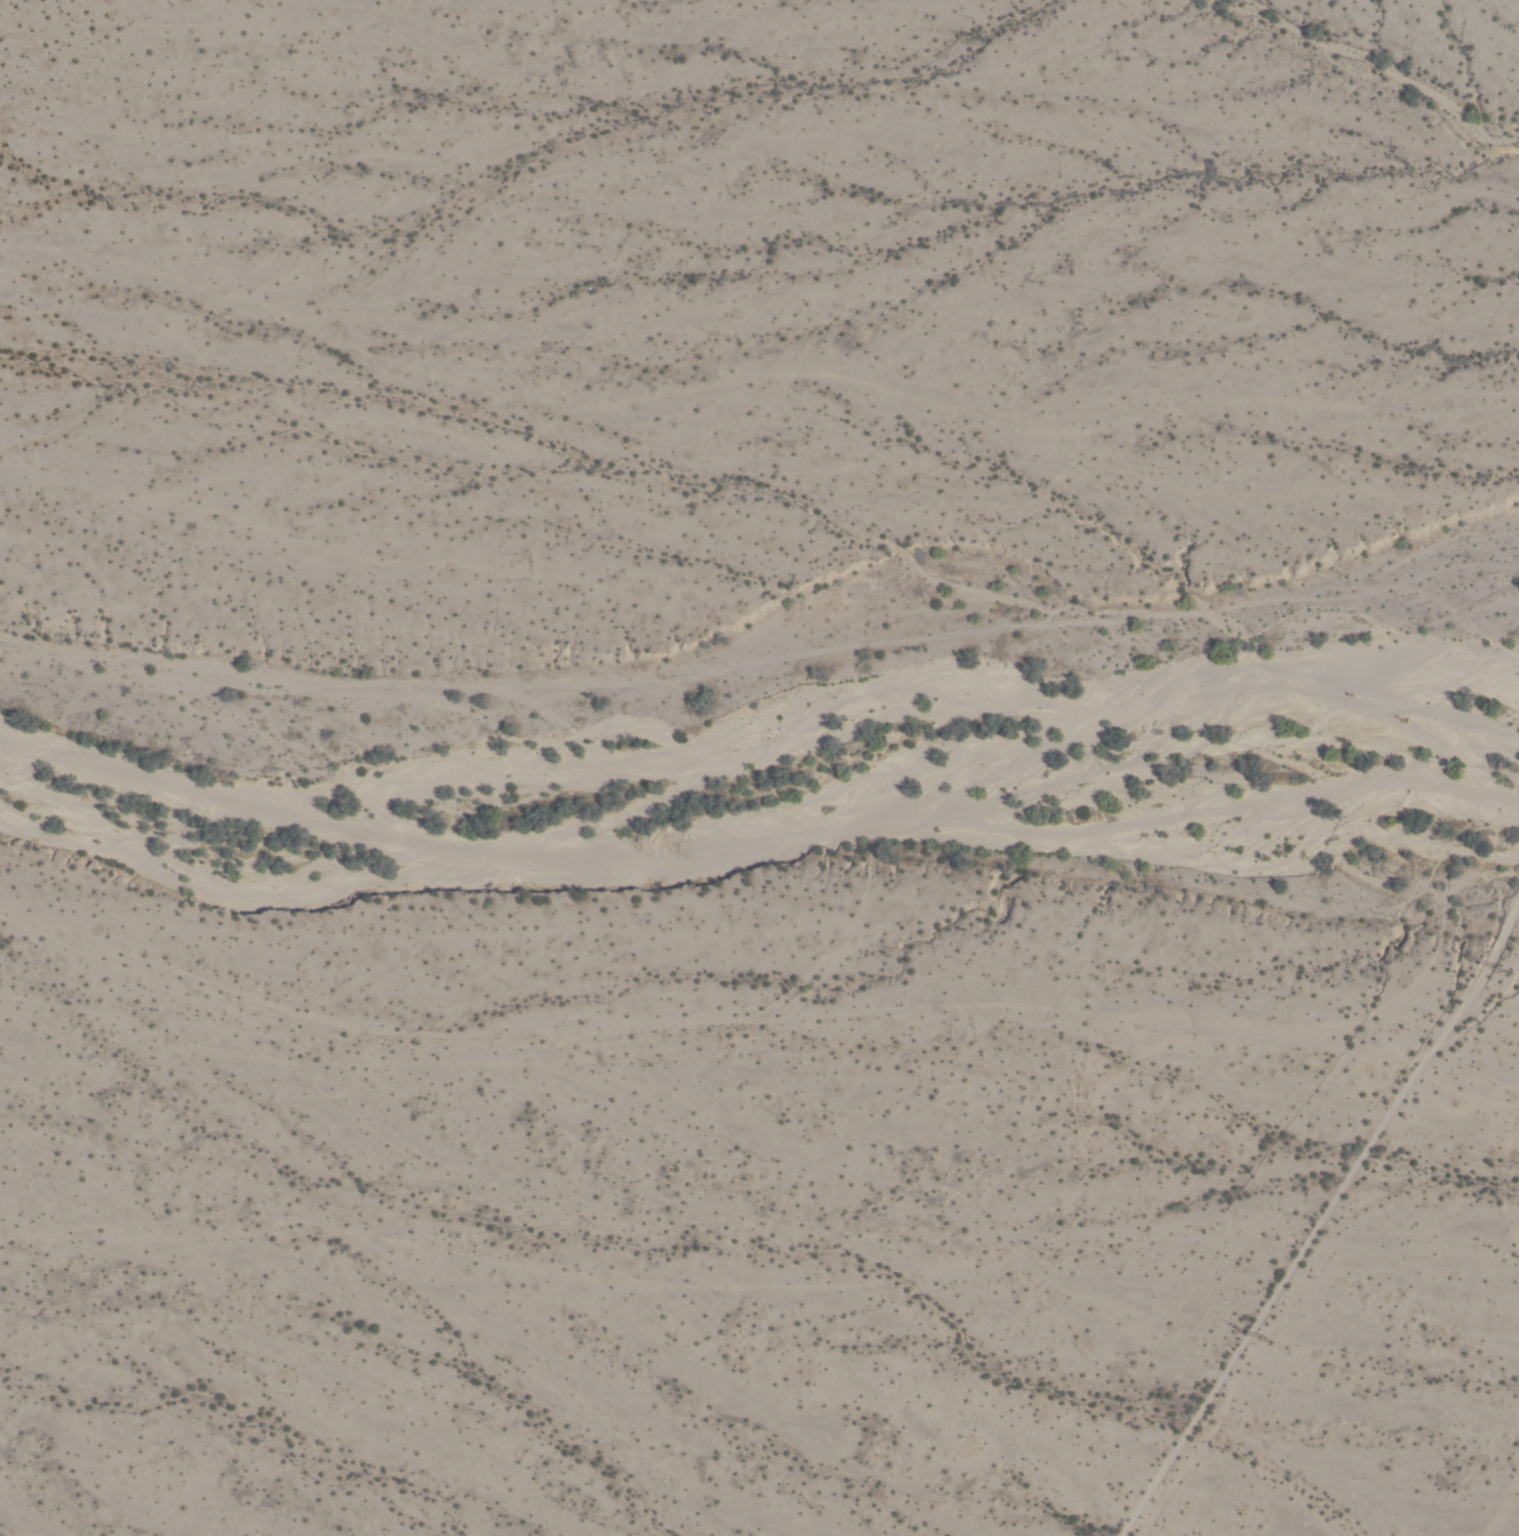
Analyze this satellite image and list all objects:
power tower: (1509, 966)
power tower: (1271, 1333)

